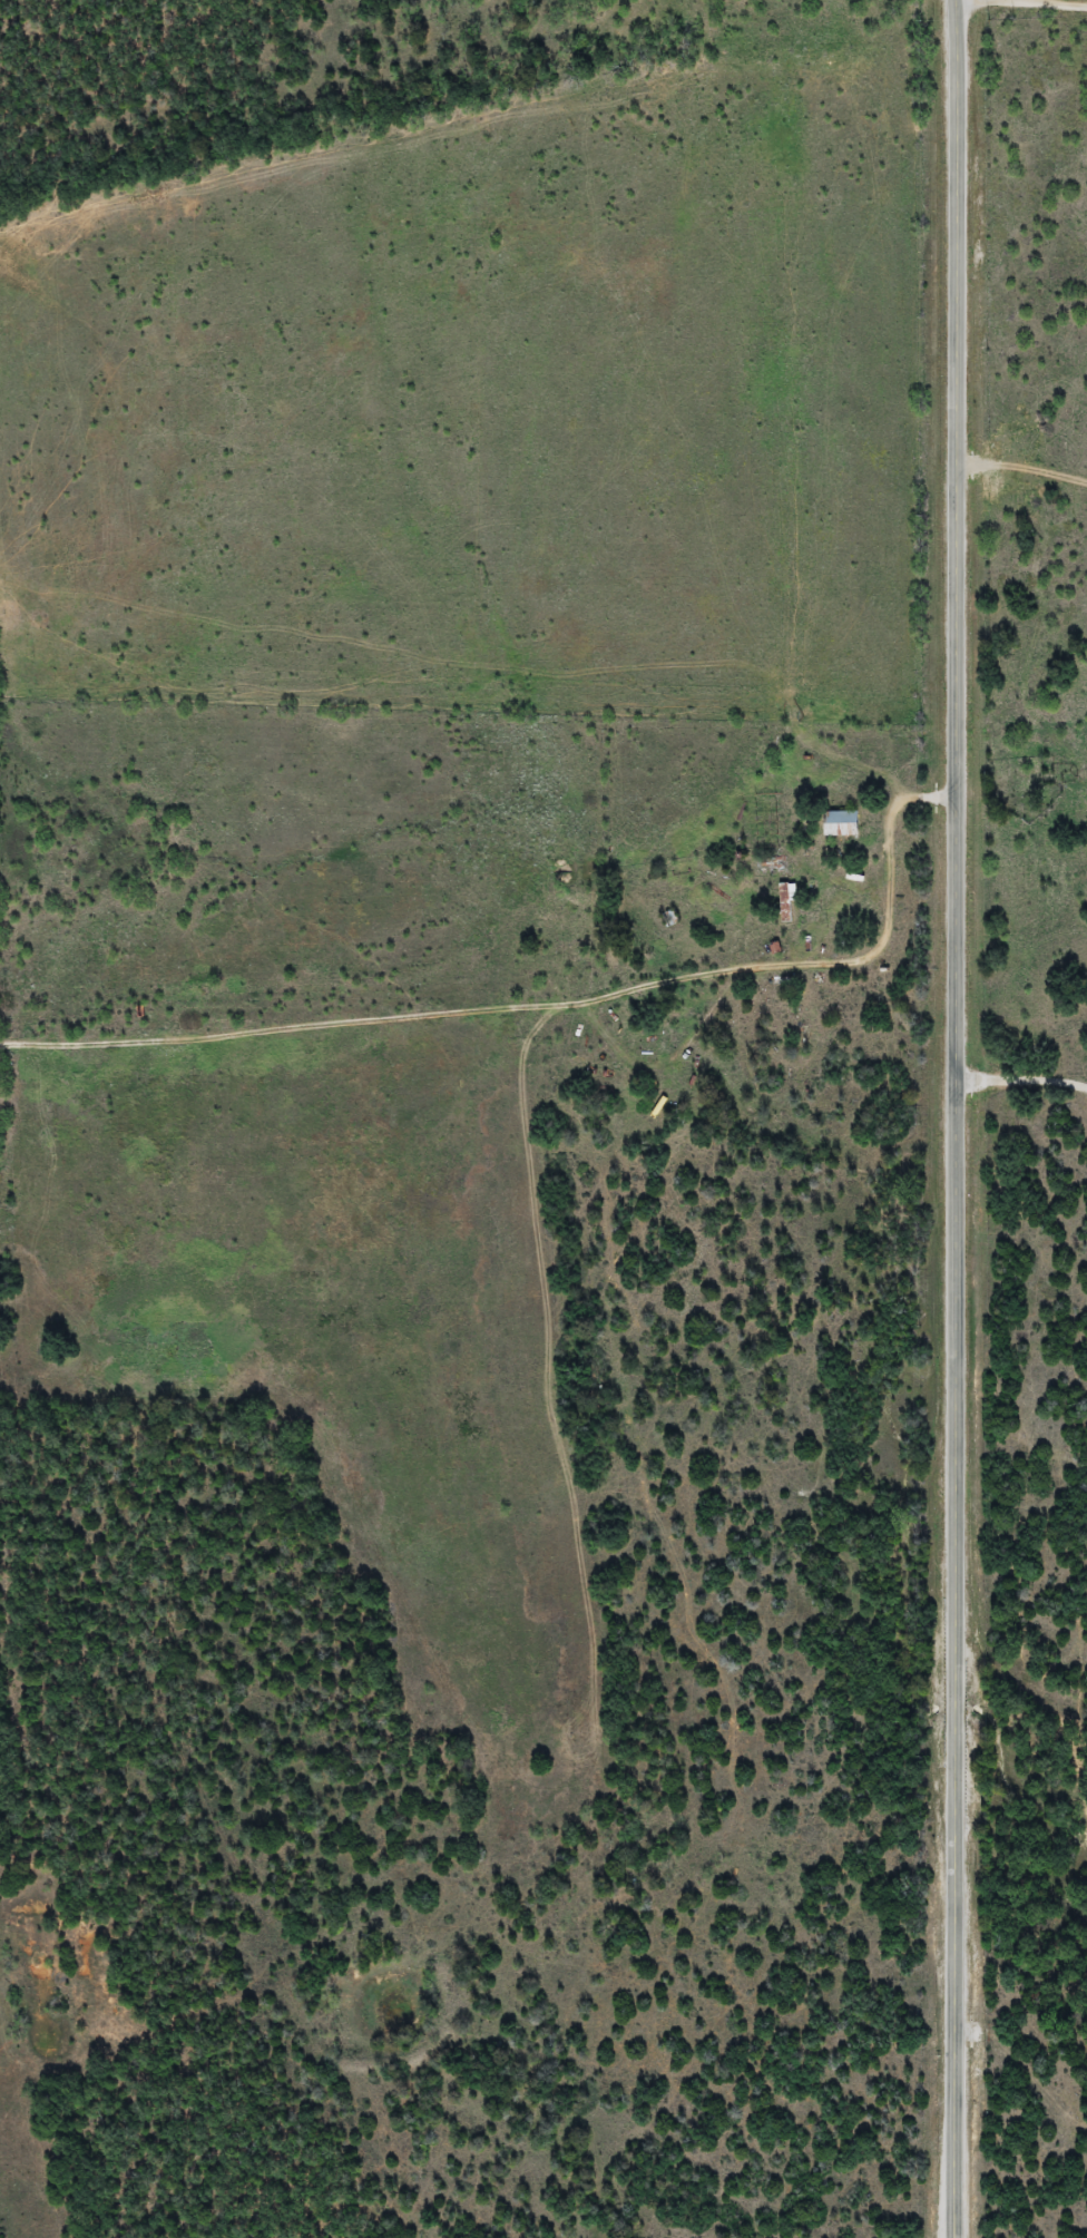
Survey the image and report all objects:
building: (844, 824)
building: (789, 903)
road: (960, 1118)

